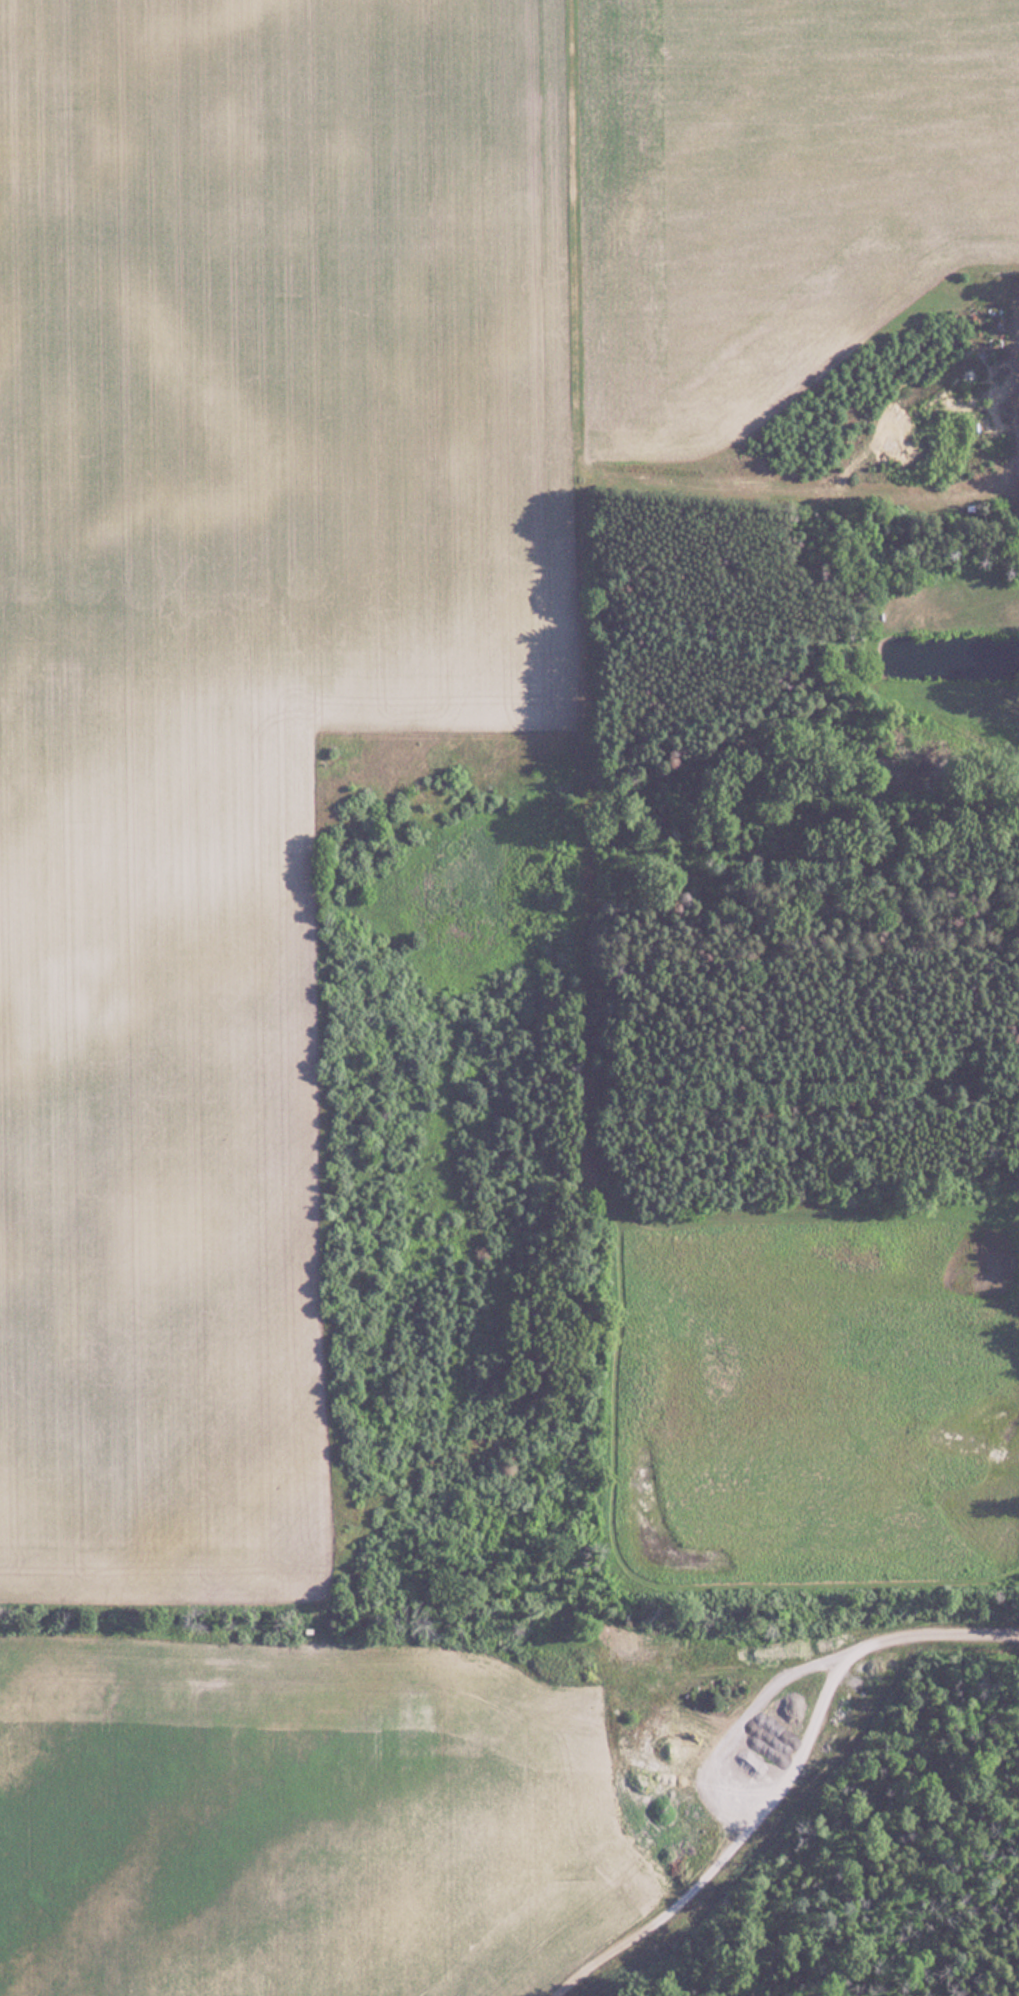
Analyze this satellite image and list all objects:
road: (580, 543)

